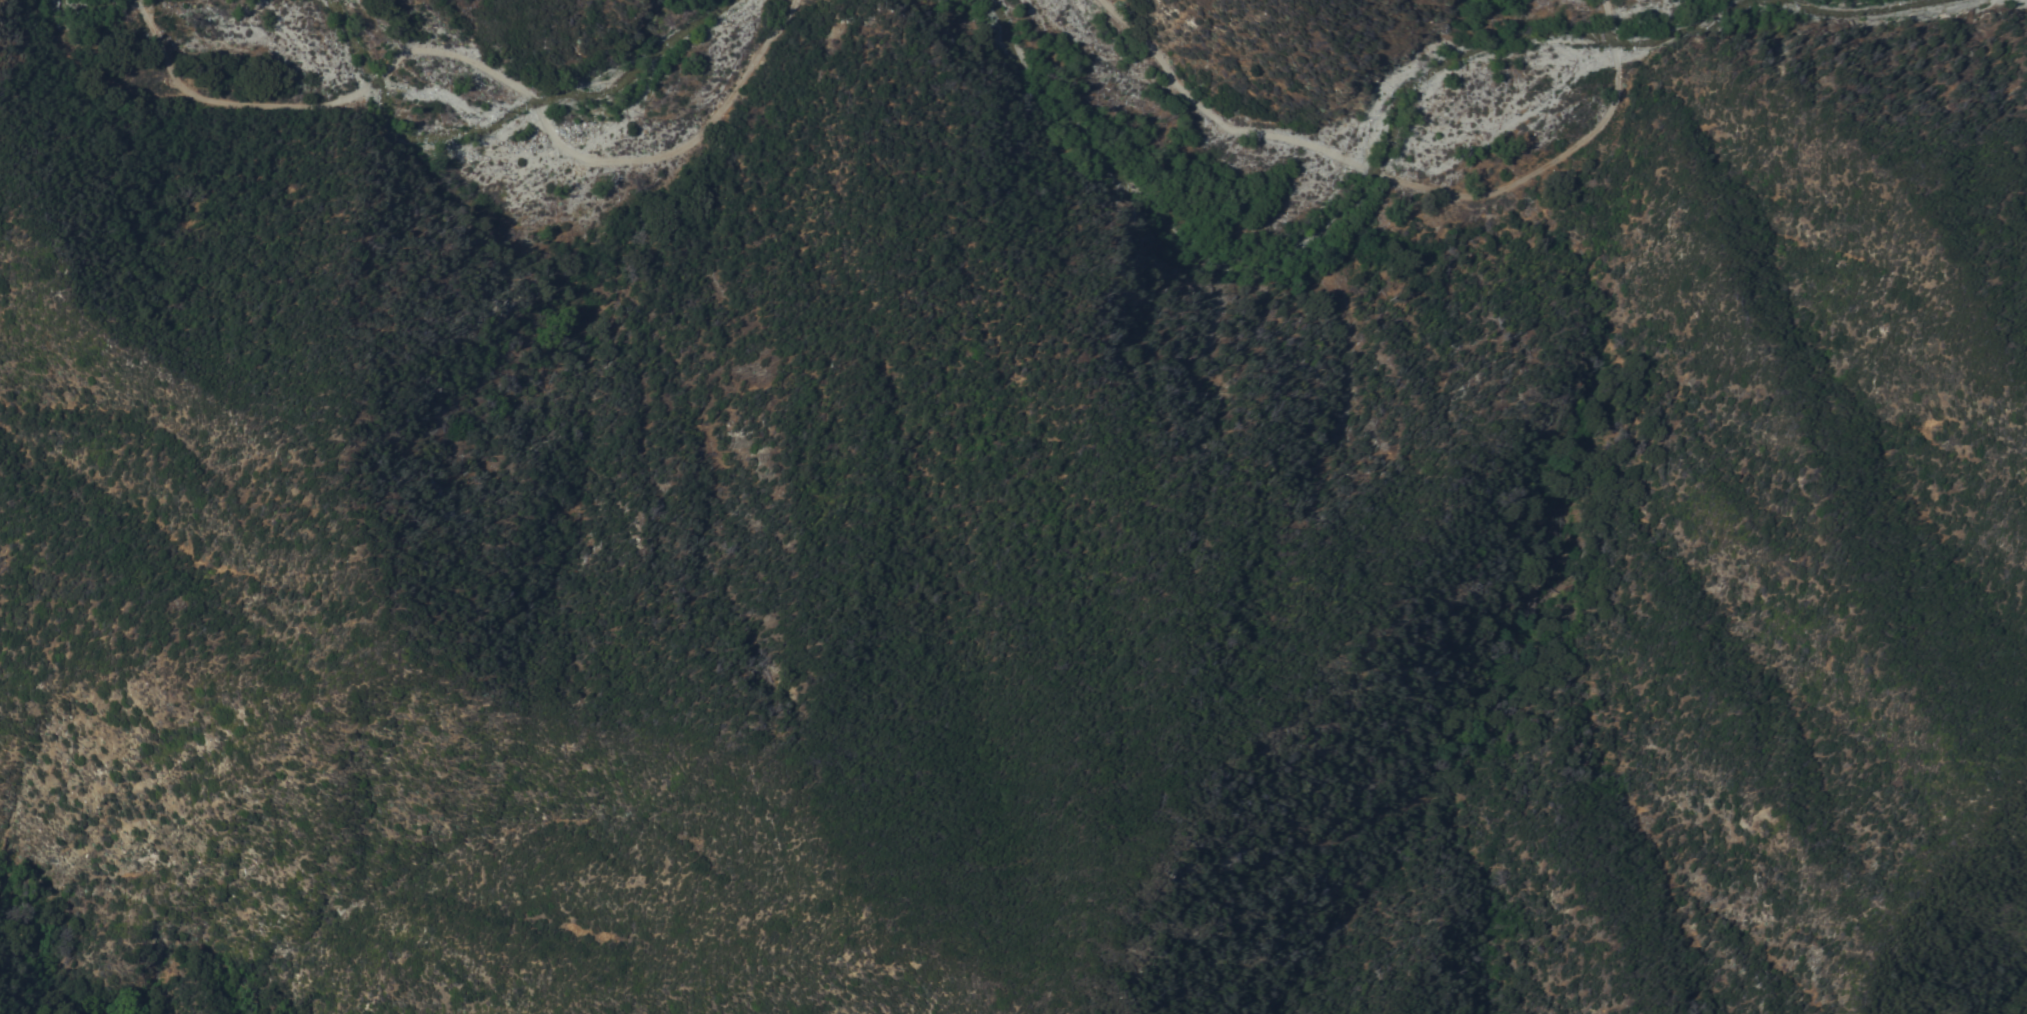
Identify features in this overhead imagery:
road: (485, 67)
road: (1402, 181)

